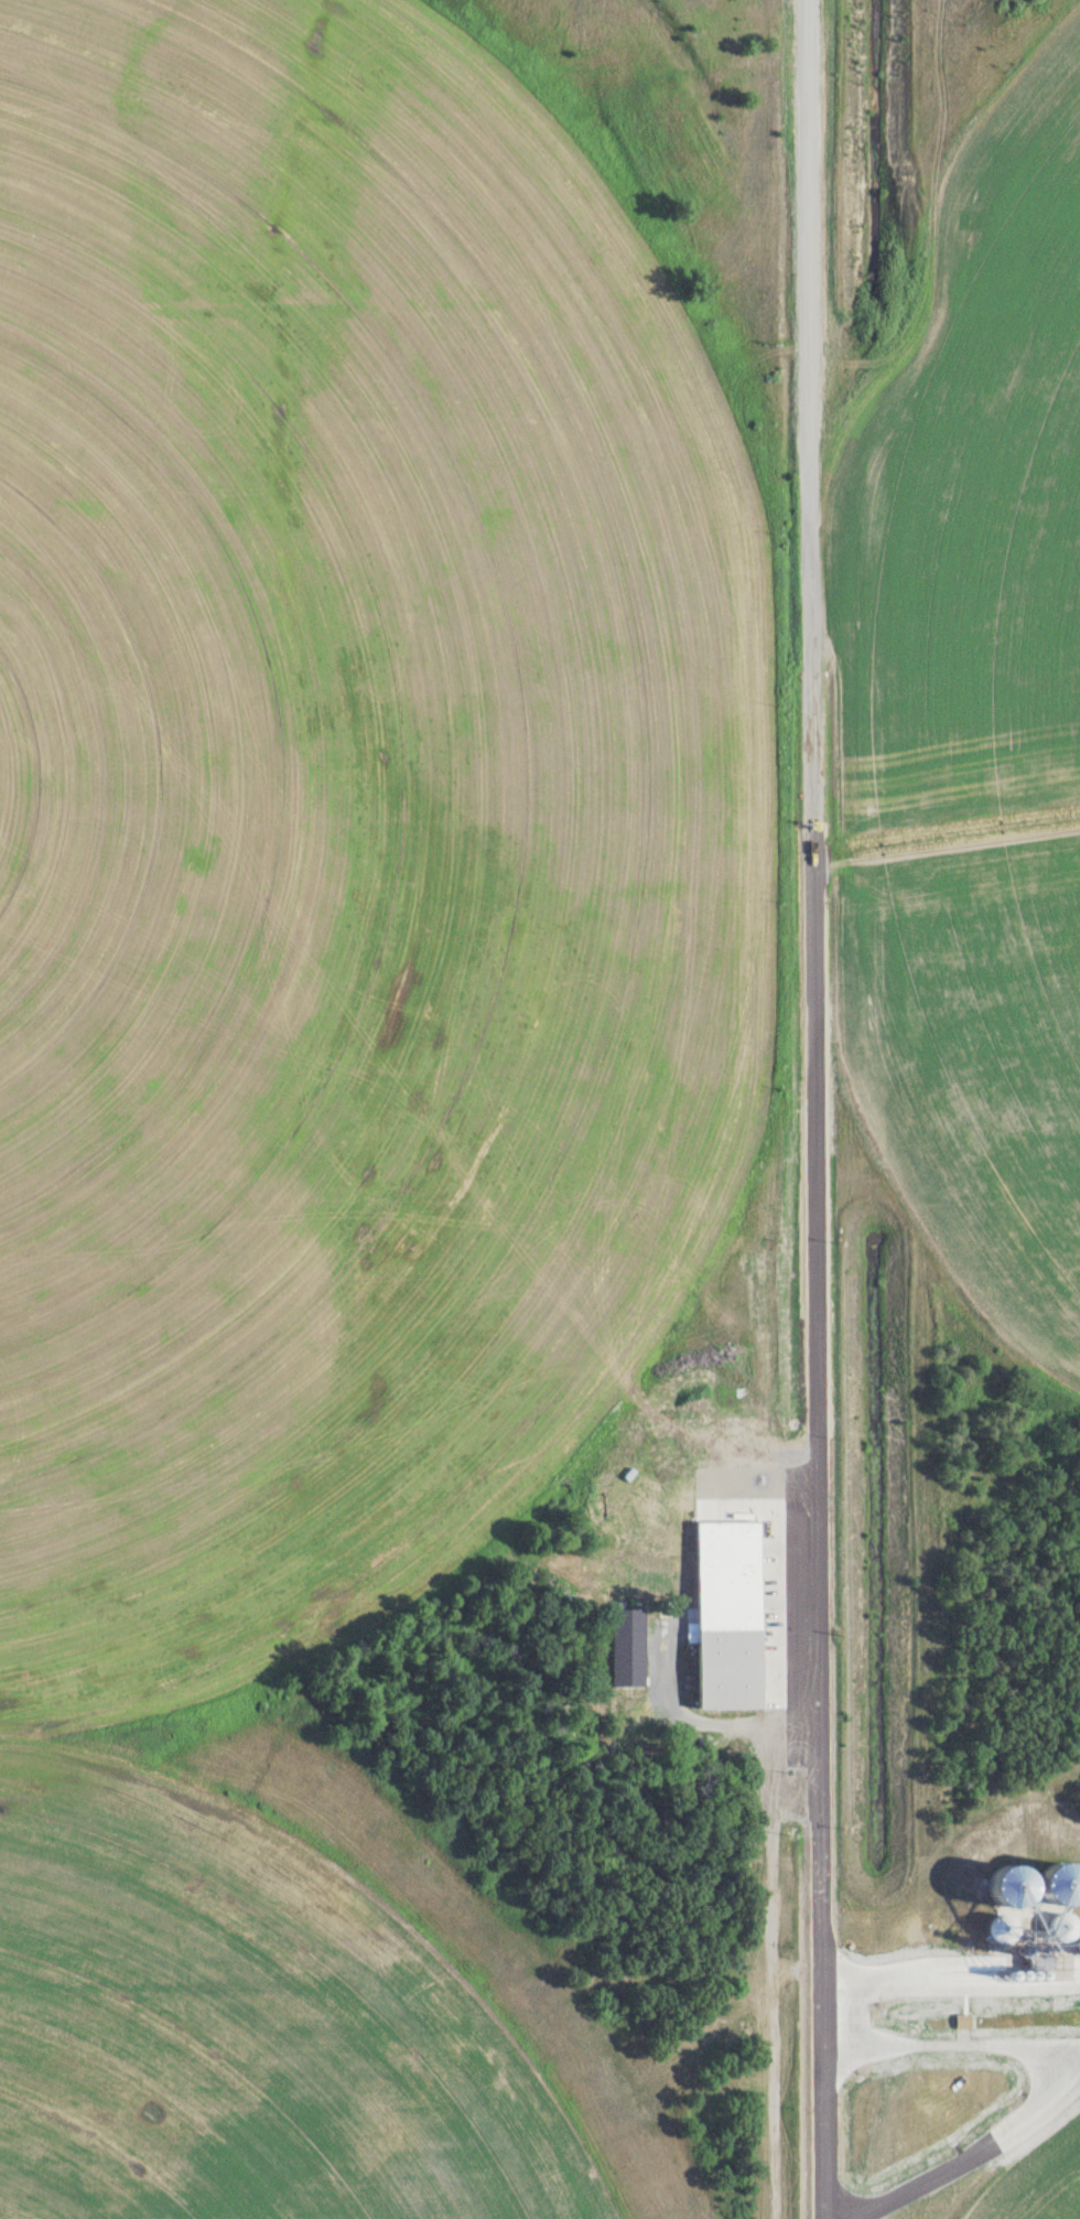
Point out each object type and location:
wastewater plant: (540, 1109)
road: (814, 1109)
building: (628, 1646)
building: (730, 1668)
building: (1017, 1877)
building: (1059, 1888)
building: (1003, 1928)
building: (1079, 1949)
road: (951, 1983)
building: (963, 2019)
road: (953, 2042)
road: (972, 2156)

